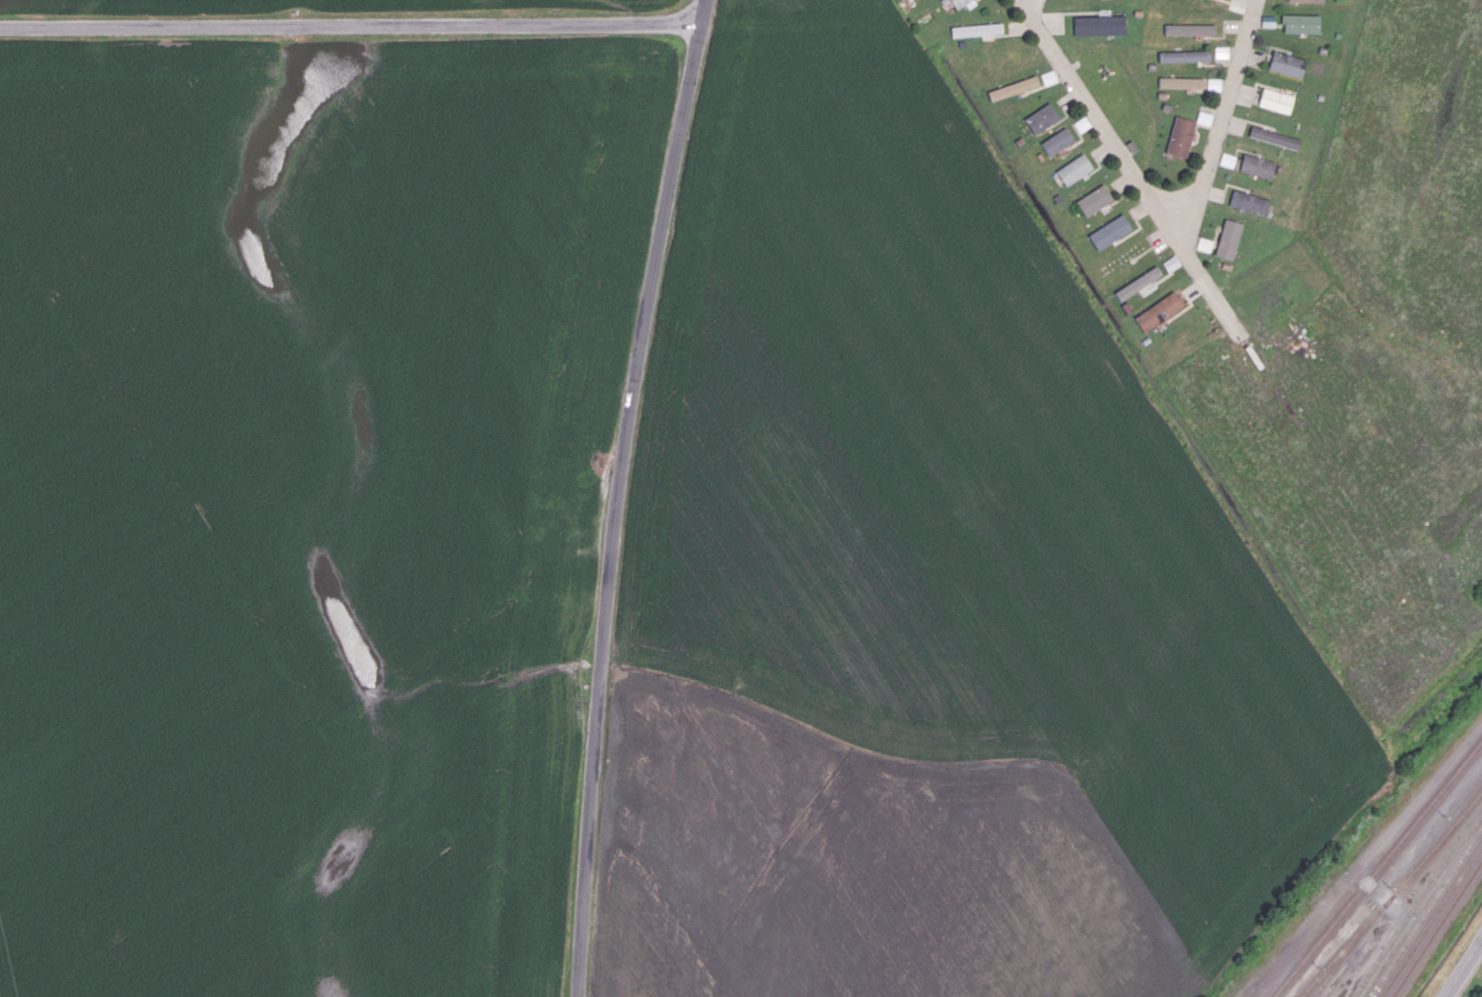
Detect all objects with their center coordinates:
building: (1307, 0)
building: (963, 3)
crop: (320, 5)
road: (1036, 10)
road: (705, 11)
building: (1267, 21)
building: (1300, 23)
road: (351, 24)
building: (1099, 25)
building: (976, 29)
building: (1189, 29)
building: (1221, 52)
building: (1183, 56)
building: (1286, 64)
building: (1049, 77)
building: (1180, 82)
building: (1213, 84)
building: (1013, 88)
park: (1117, 99)
building: (1275, 100)
road: (1226, 106)
road: (1095, 116)
building: (1203, 117)
building: (1041, 118)
building: (1082, 124)
building: (1181, 136)
building: (1273, 137)
building: (1056, 141)
building: (1227, 160)
building: (1256, 166)
building: (1074, 169)
building: (1094, 200)
building: (1248, 202)
building: (1109, 231)
building: (1228, 239)
building: (1204, 244)
building: (1171, 263)
road: (1197, 270)
building: (1138, 283)
building: (1158, 311)
crop: (306, 501)
road: (621, 507)
crop: (1016, 537)
railway: (1378, 869)
railway: (1396, 891)
railway: (1415, 905)
railway: (1426, 912)
railway: (1432, 921)
railway: (1437, 928)
railway: (1332, 963)
road: (1463, 968)

